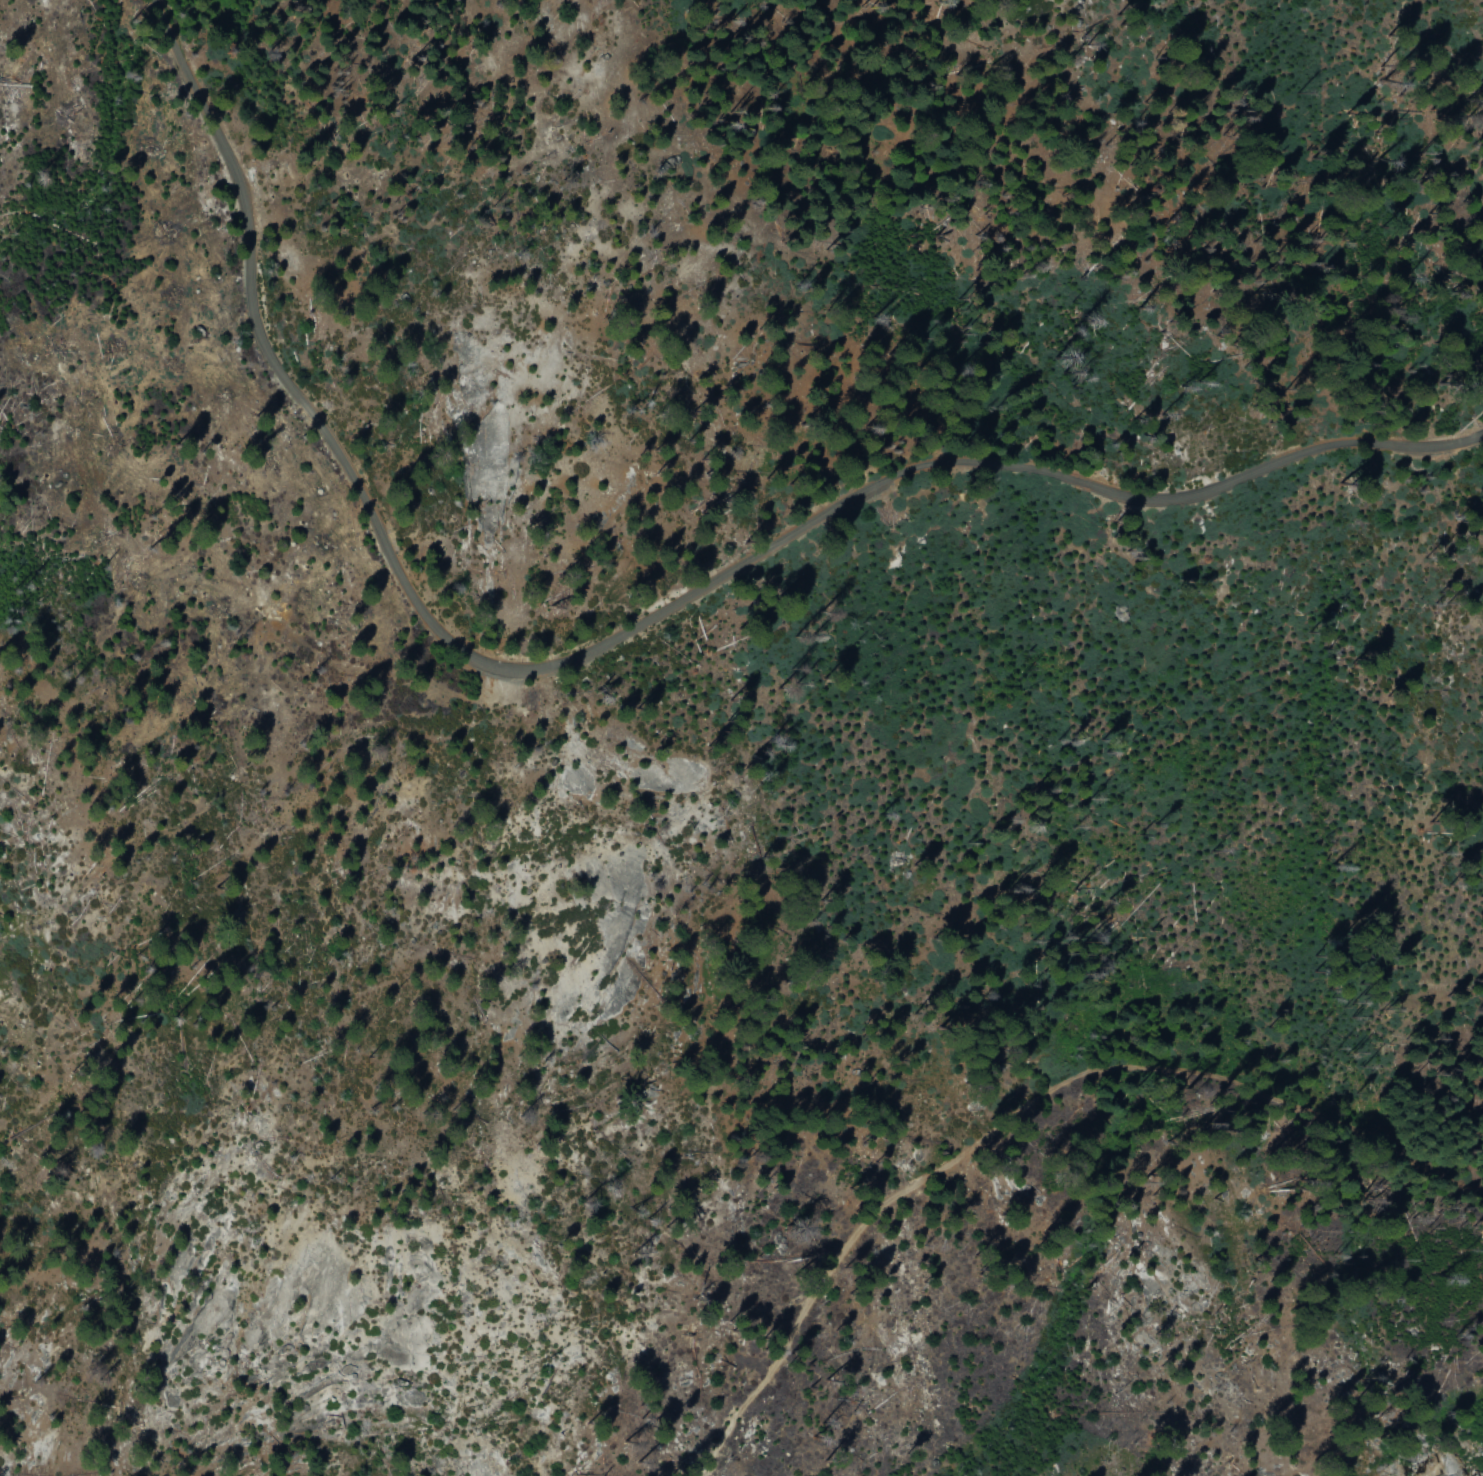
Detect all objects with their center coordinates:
road: (626, 630)
river: (1448, 1466)

